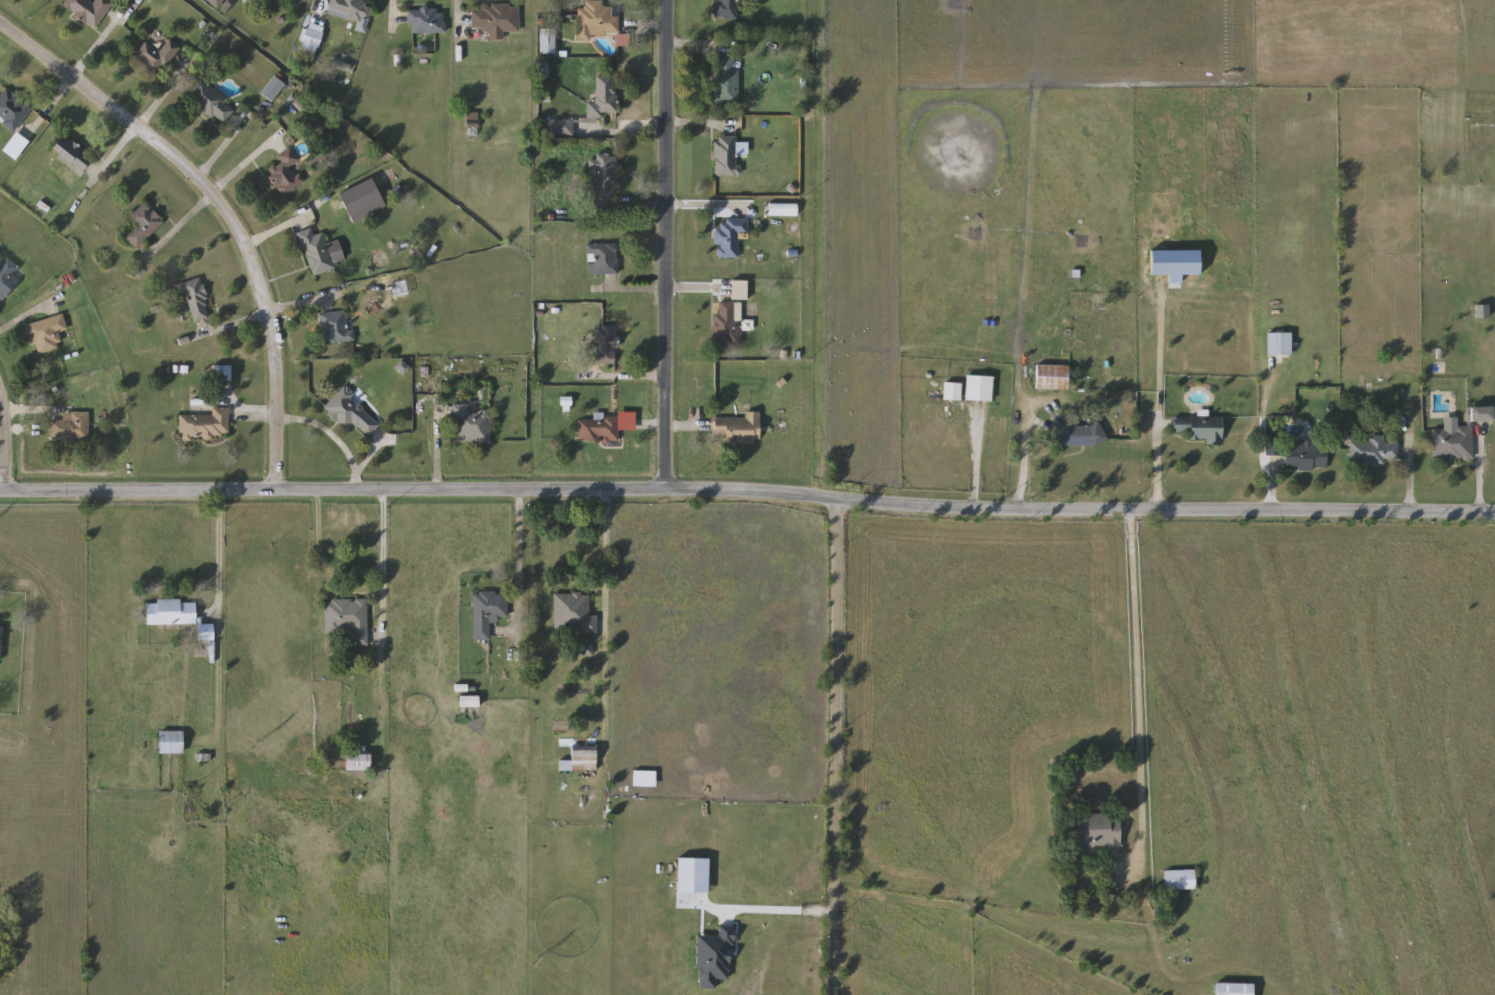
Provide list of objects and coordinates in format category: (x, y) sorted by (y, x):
road: (316, 5)
building: (351, 9)
building: (725, 9)
building: (88, 10)
road: (393, 16)
road: (456, 17)
building: (496, 20)
building: (426, 21)
building: (596, 21)
road: (645, 24)
building: (547, 41)
road: (699, 44)
building: (156, 57)
road: (72, 80)
building: (726, 81)
building: (604, 97)
building: (210, 103)
building: (12, 109)
road: (144, 119)
road: (704, 124)
building: (559, 127)
road: (588, 132)
road: (632, 133)
road: (220, 150)
building: (70, 155)
building: (726, 156)
building: (285, 173)
building: (605, 183)
road: (209, 200)
road: (672, 210)
road: (222, 211)
building: (143, 226)
road: (275, 233)
building: (730, 236)
road: (665, 246)
building: (315, 253)
building: (603, 259)
building: (8, 276)
road: (662, 289)
building: (194, 298)
road: (266, 315)
road: (25, 317)
building: (728, 323)
building: (337, 327)
building: (46, 334)
building: (1279, 344)
building: (603, 346)
road: (626, 377)
building: (1052, 377)
building: (978, 388)
road: (28, 413)
building: (351, 413)
building: (1480, 414)
building: (205, 425)
road: (311, 425)
building: (471, 425)
building: (70, 427)
road: (666, 427)
building: (1199, 427)
building: (738, 428)
building: (598, 429)
building: (1081, 434)
road: (1260, 439)
road: (4, 441)
building: (1452, 444)
building: (1272, 446)
building: (1372, 451)
road: (437, 453)
building: (1305, 455)
road: (974, 459)
road: (1155, 463)
road: (1025, 464)
road: (356, 485)
road: (1407, 485)
road: (747, 494)
road: (218, 556)
road: (322, 559)
road: (383, 566)
road: (518, 569)
building: (487, 612)
building: (170, 613)
building: (573, 613)
road: (605, 616)
building: (347, 619)
building: (205, 633)
building: (0, 636)
road: (1138, 721)
building: (169, 743)
power tower: (258, 747)
road: (833, 747)
building: (583, 758)
building: (356, 761)
road: (1078, 792)
building: (1096, 830)
building: (1180, 879)
road: (772, 908)
power tower: (540, 958)
building: (1233, 989)

